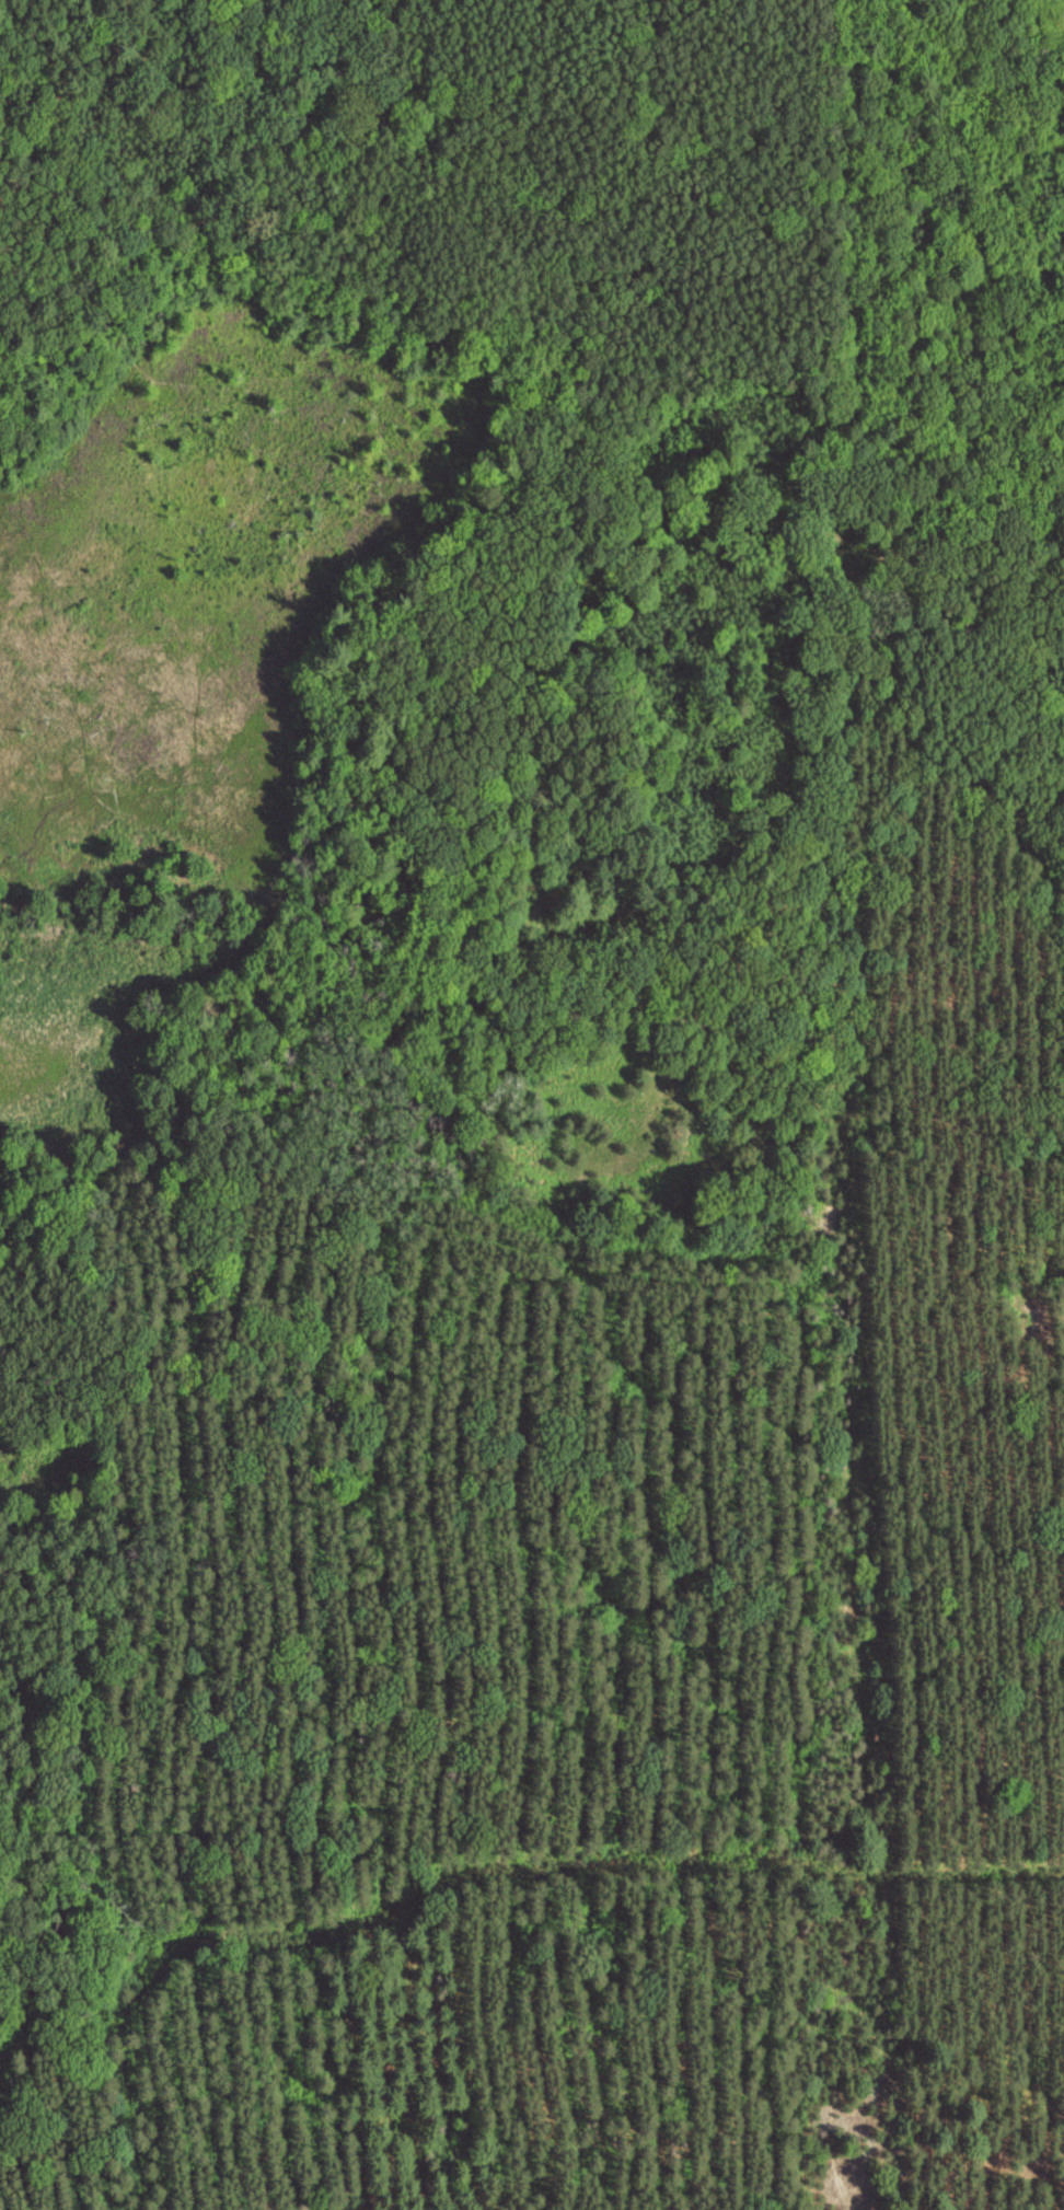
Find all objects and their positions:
road: (906, 670)
road: (762, 1131)

